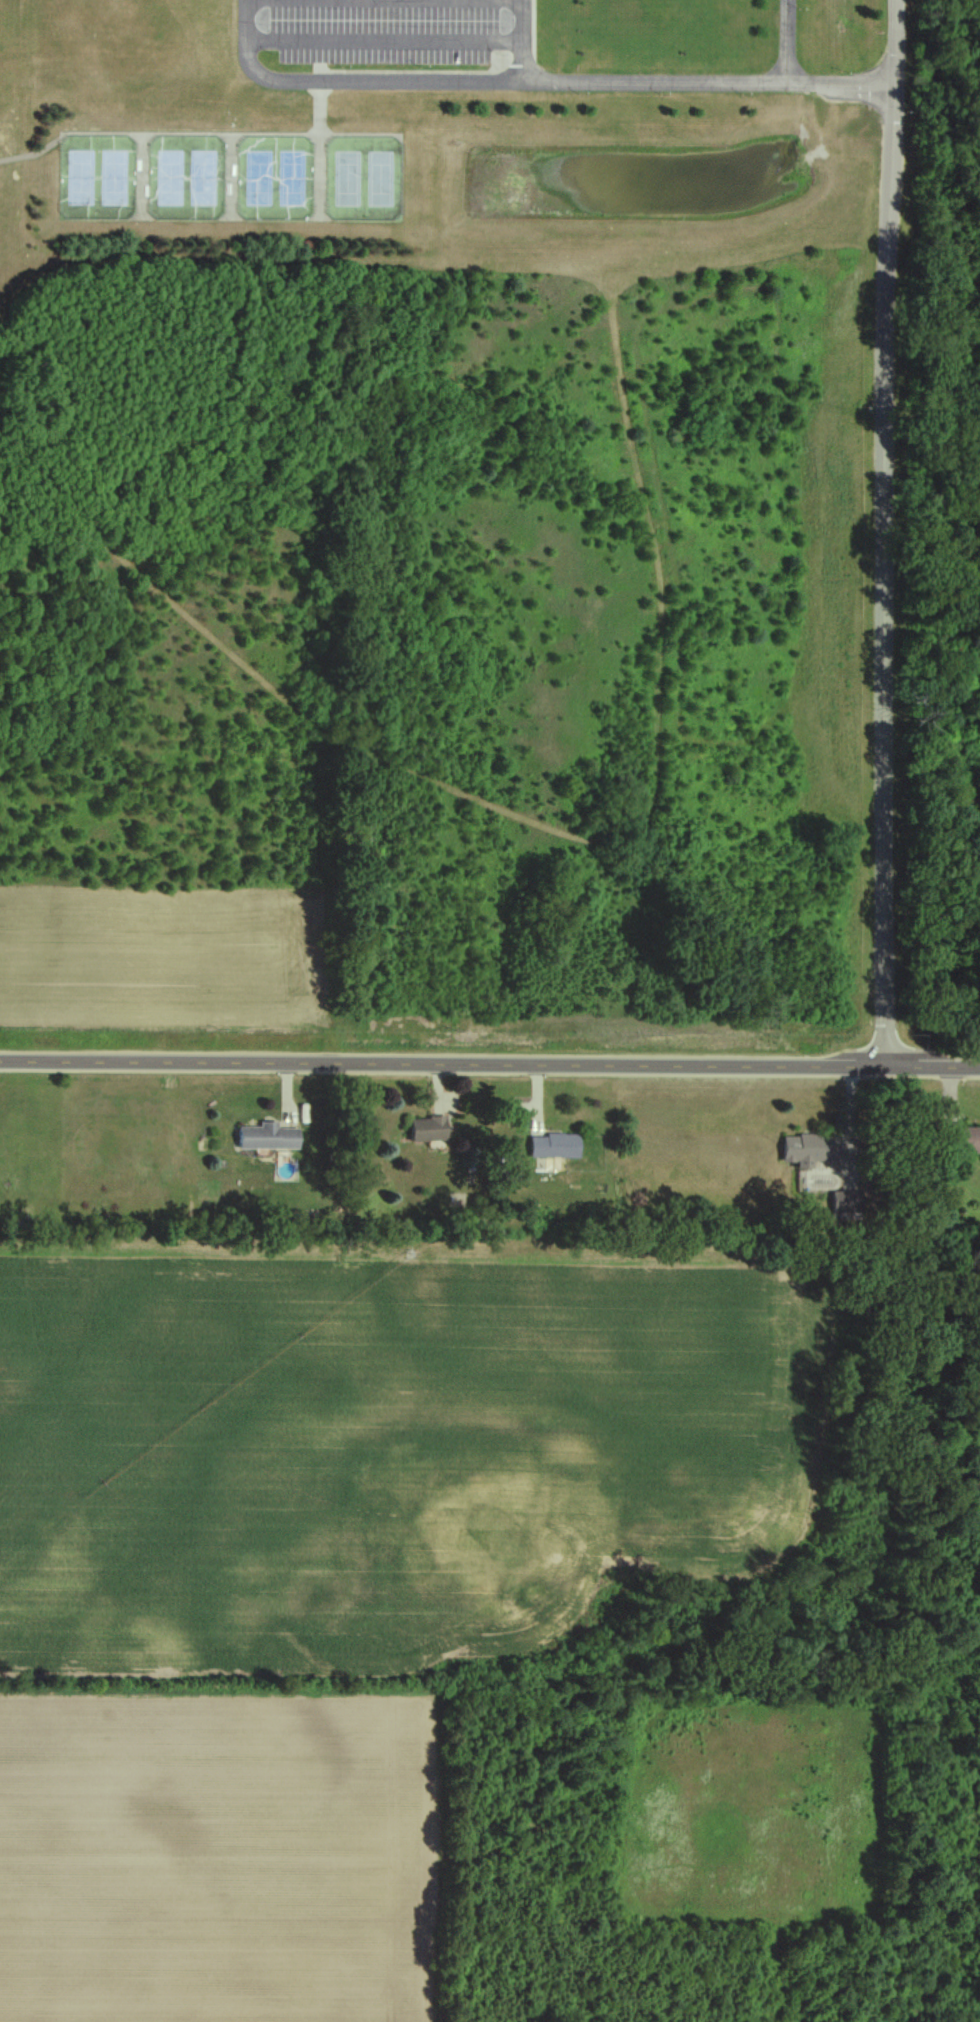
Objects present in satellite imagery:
road: (385, 41)
road: (523, 41)
road: (789, 42)
road: (352, 82)
road: (704, 84)
park: (99, 177)
park: (188, 177)
park: (277, 177)
park: (366, 178)
road: (927, 184)
road: (887, 533)
park: (936, 543)
road: (490, 1065)
building: (430, 1131)
building: (271, 1138)
building: (557, 1148)
building: (812, 1149)
building: (848, 1206)

